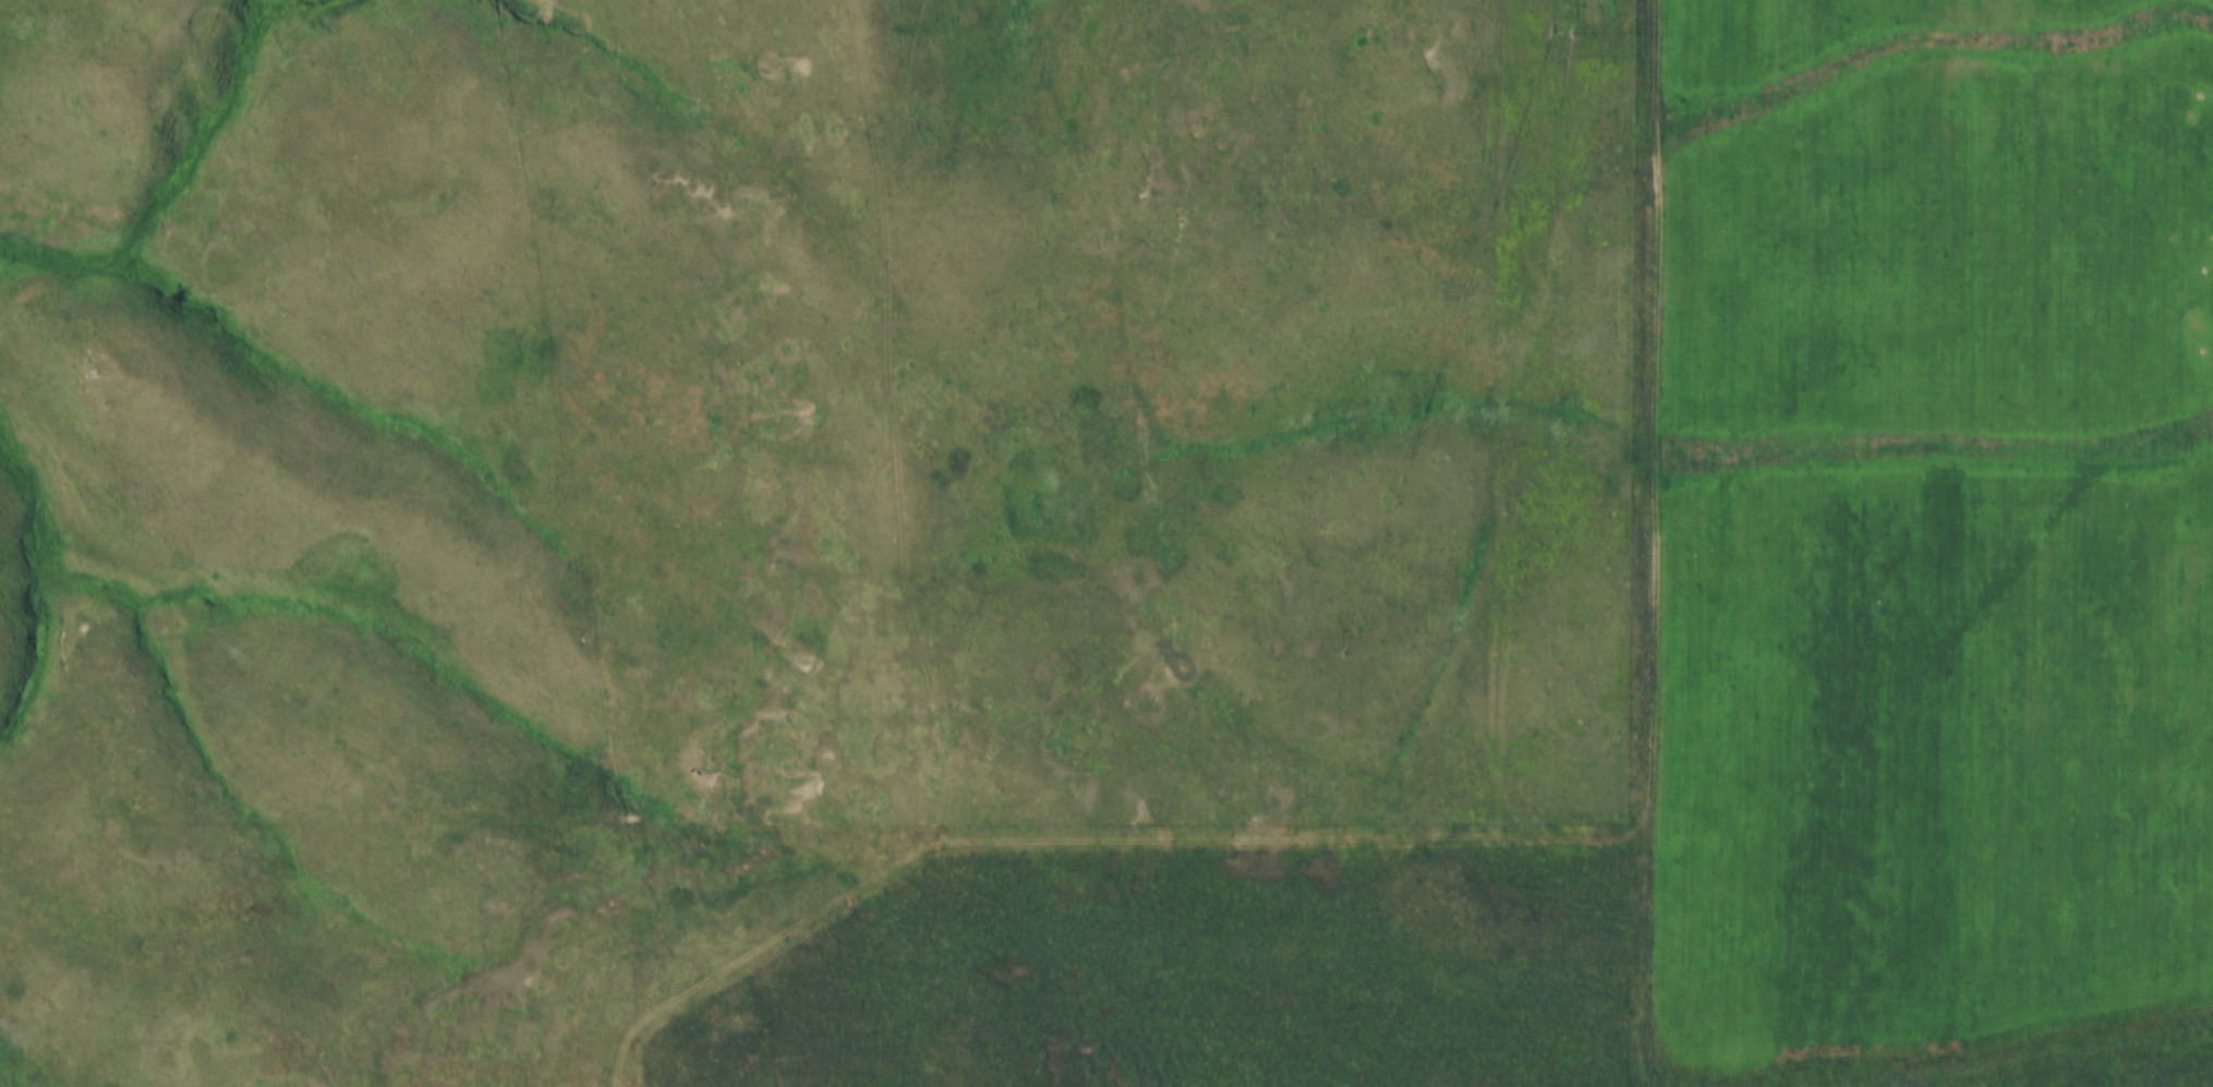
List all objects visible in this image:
road: (1001, 544)

